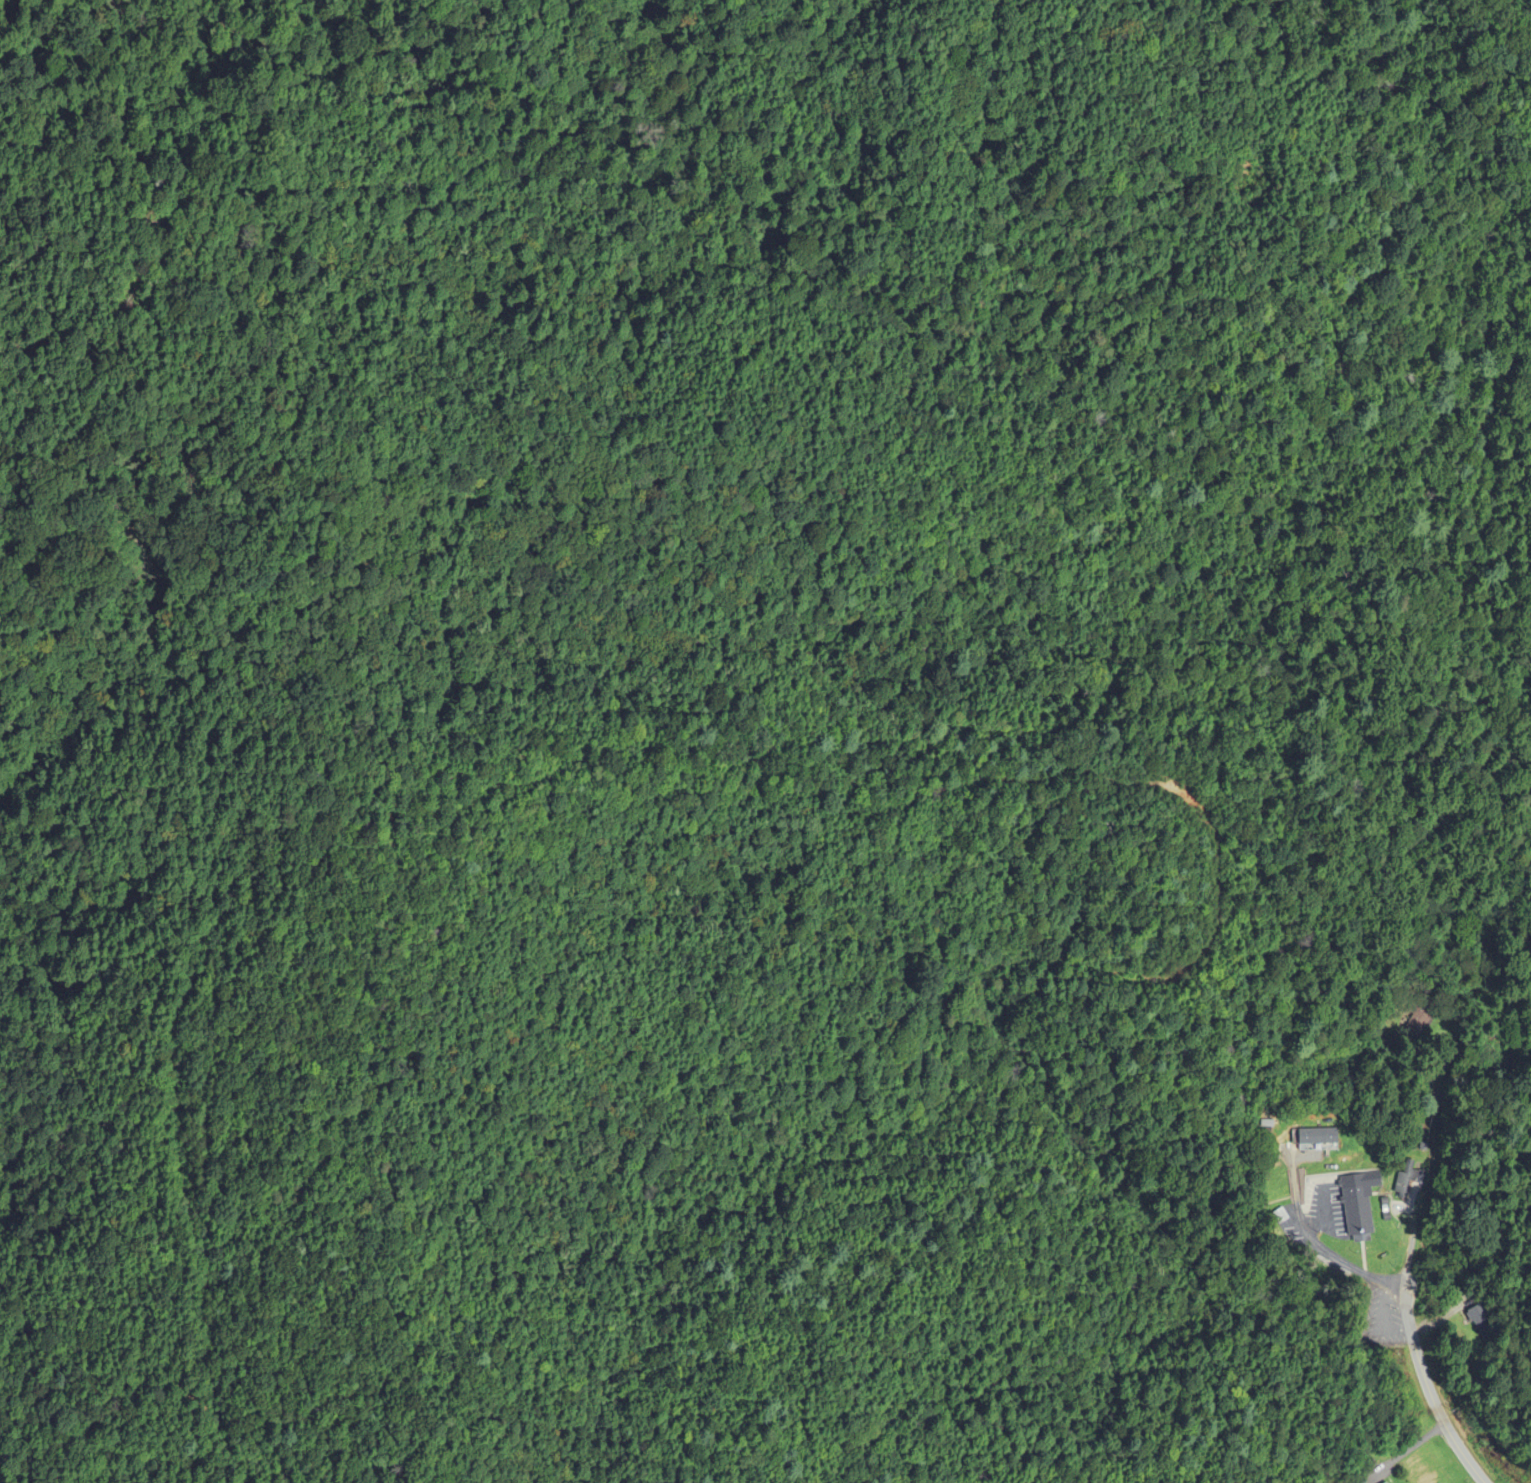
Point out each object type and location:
building: (1420, 1018)
building: (1491, 1041)
building: (1319, 1141)
building: (1359, 1212)
building: (1482, 1321)
road: (1413, 1336)
building: (1387, 1482)

